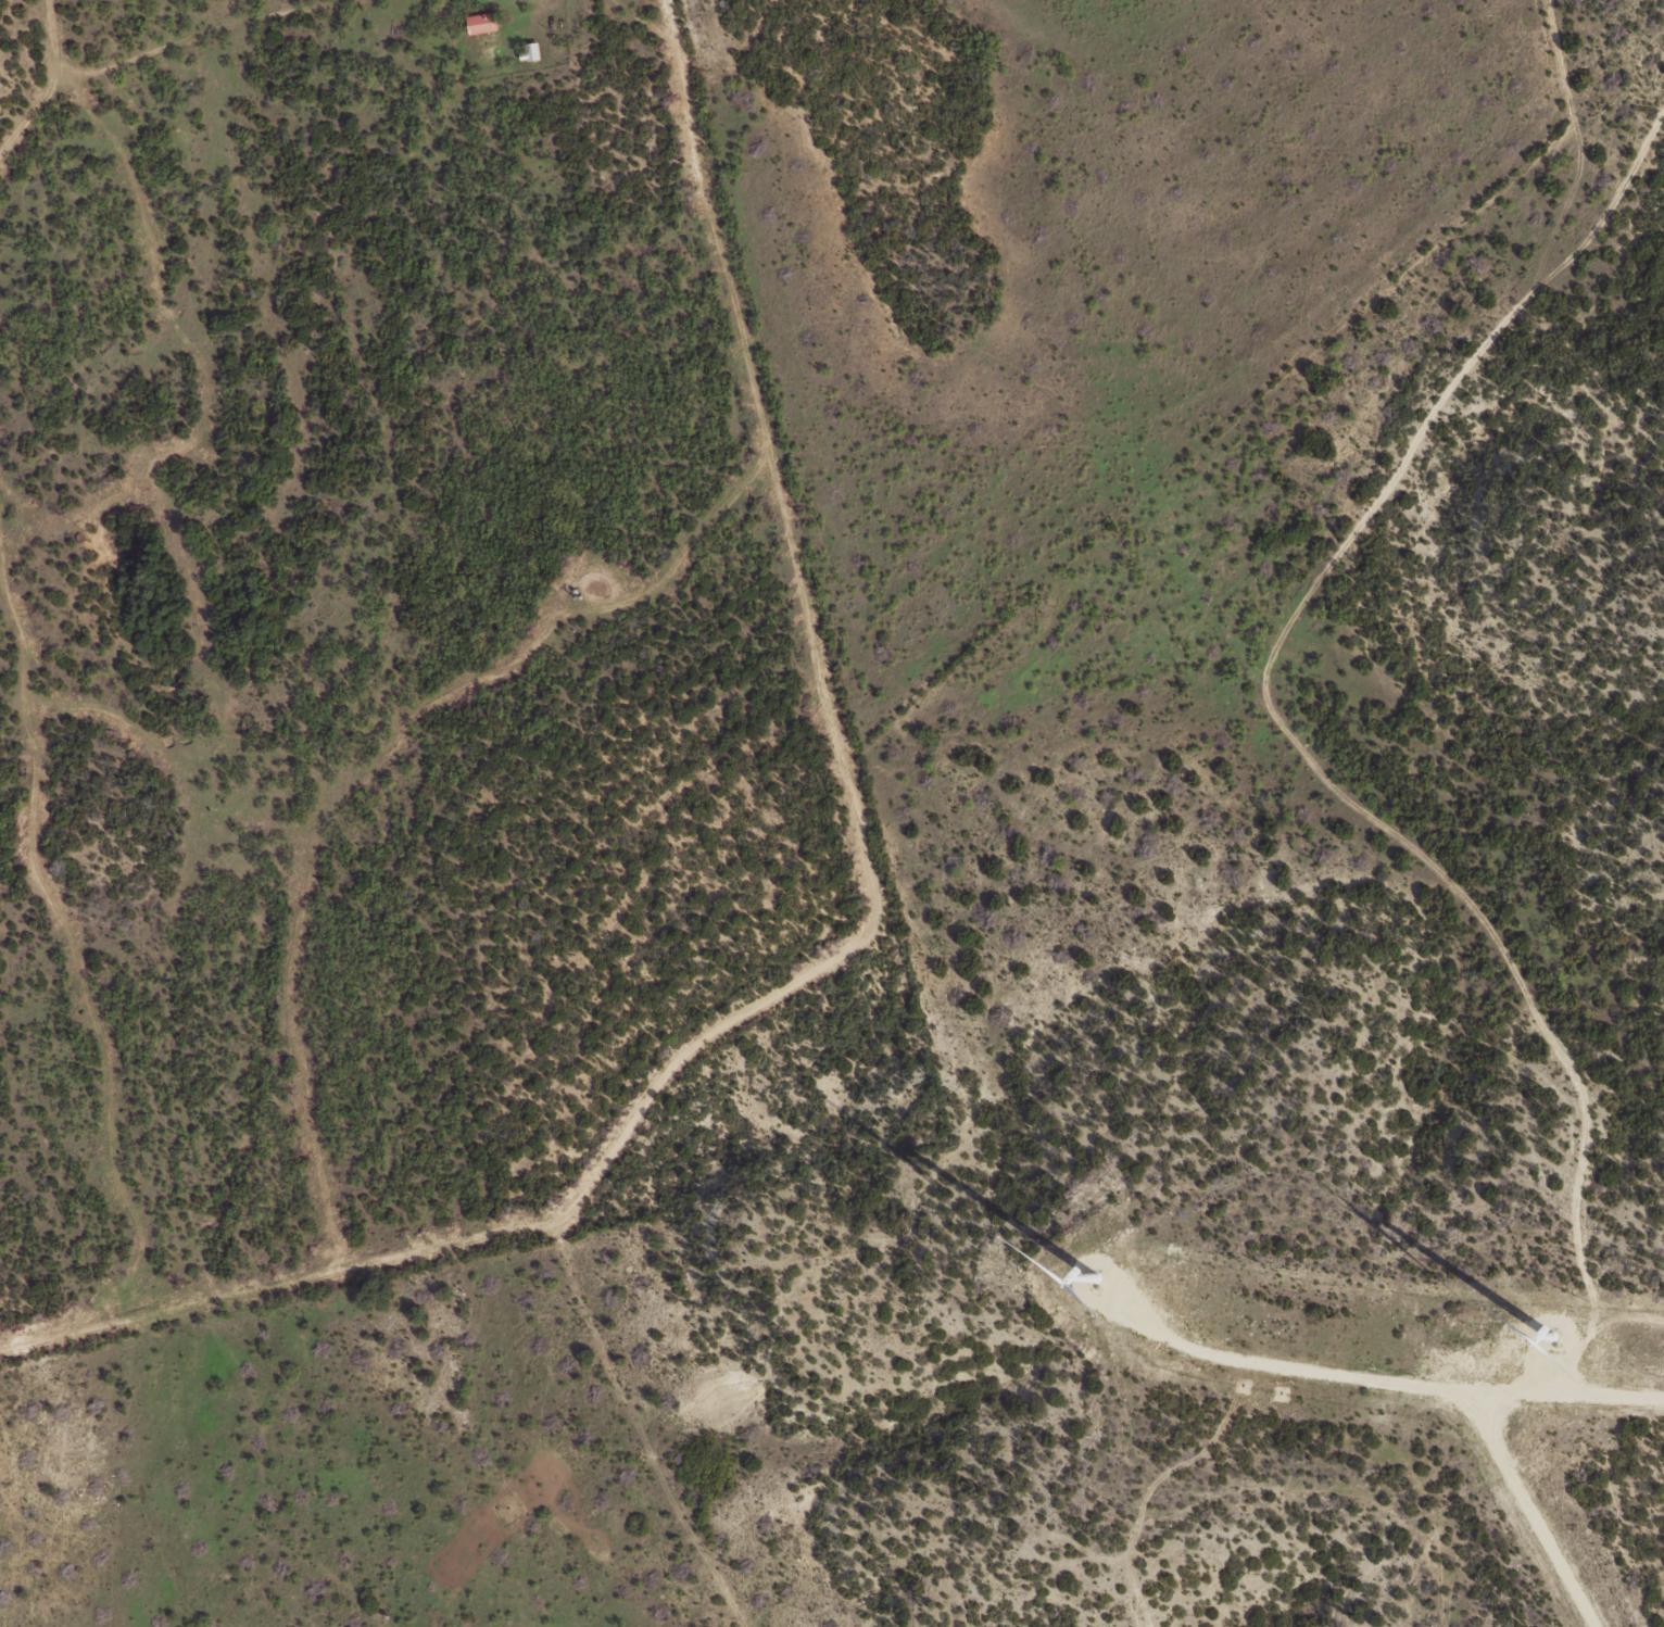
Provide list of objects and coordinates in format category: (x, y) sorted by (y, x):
building: (482, 23)
road: (645, 24)
building: (530, 52)
road: (761, 429)
road: (1297, 719)
road: (499, 1216)
wind turbine: (1100, 1284)
wind turbine: (1531, 1328)

